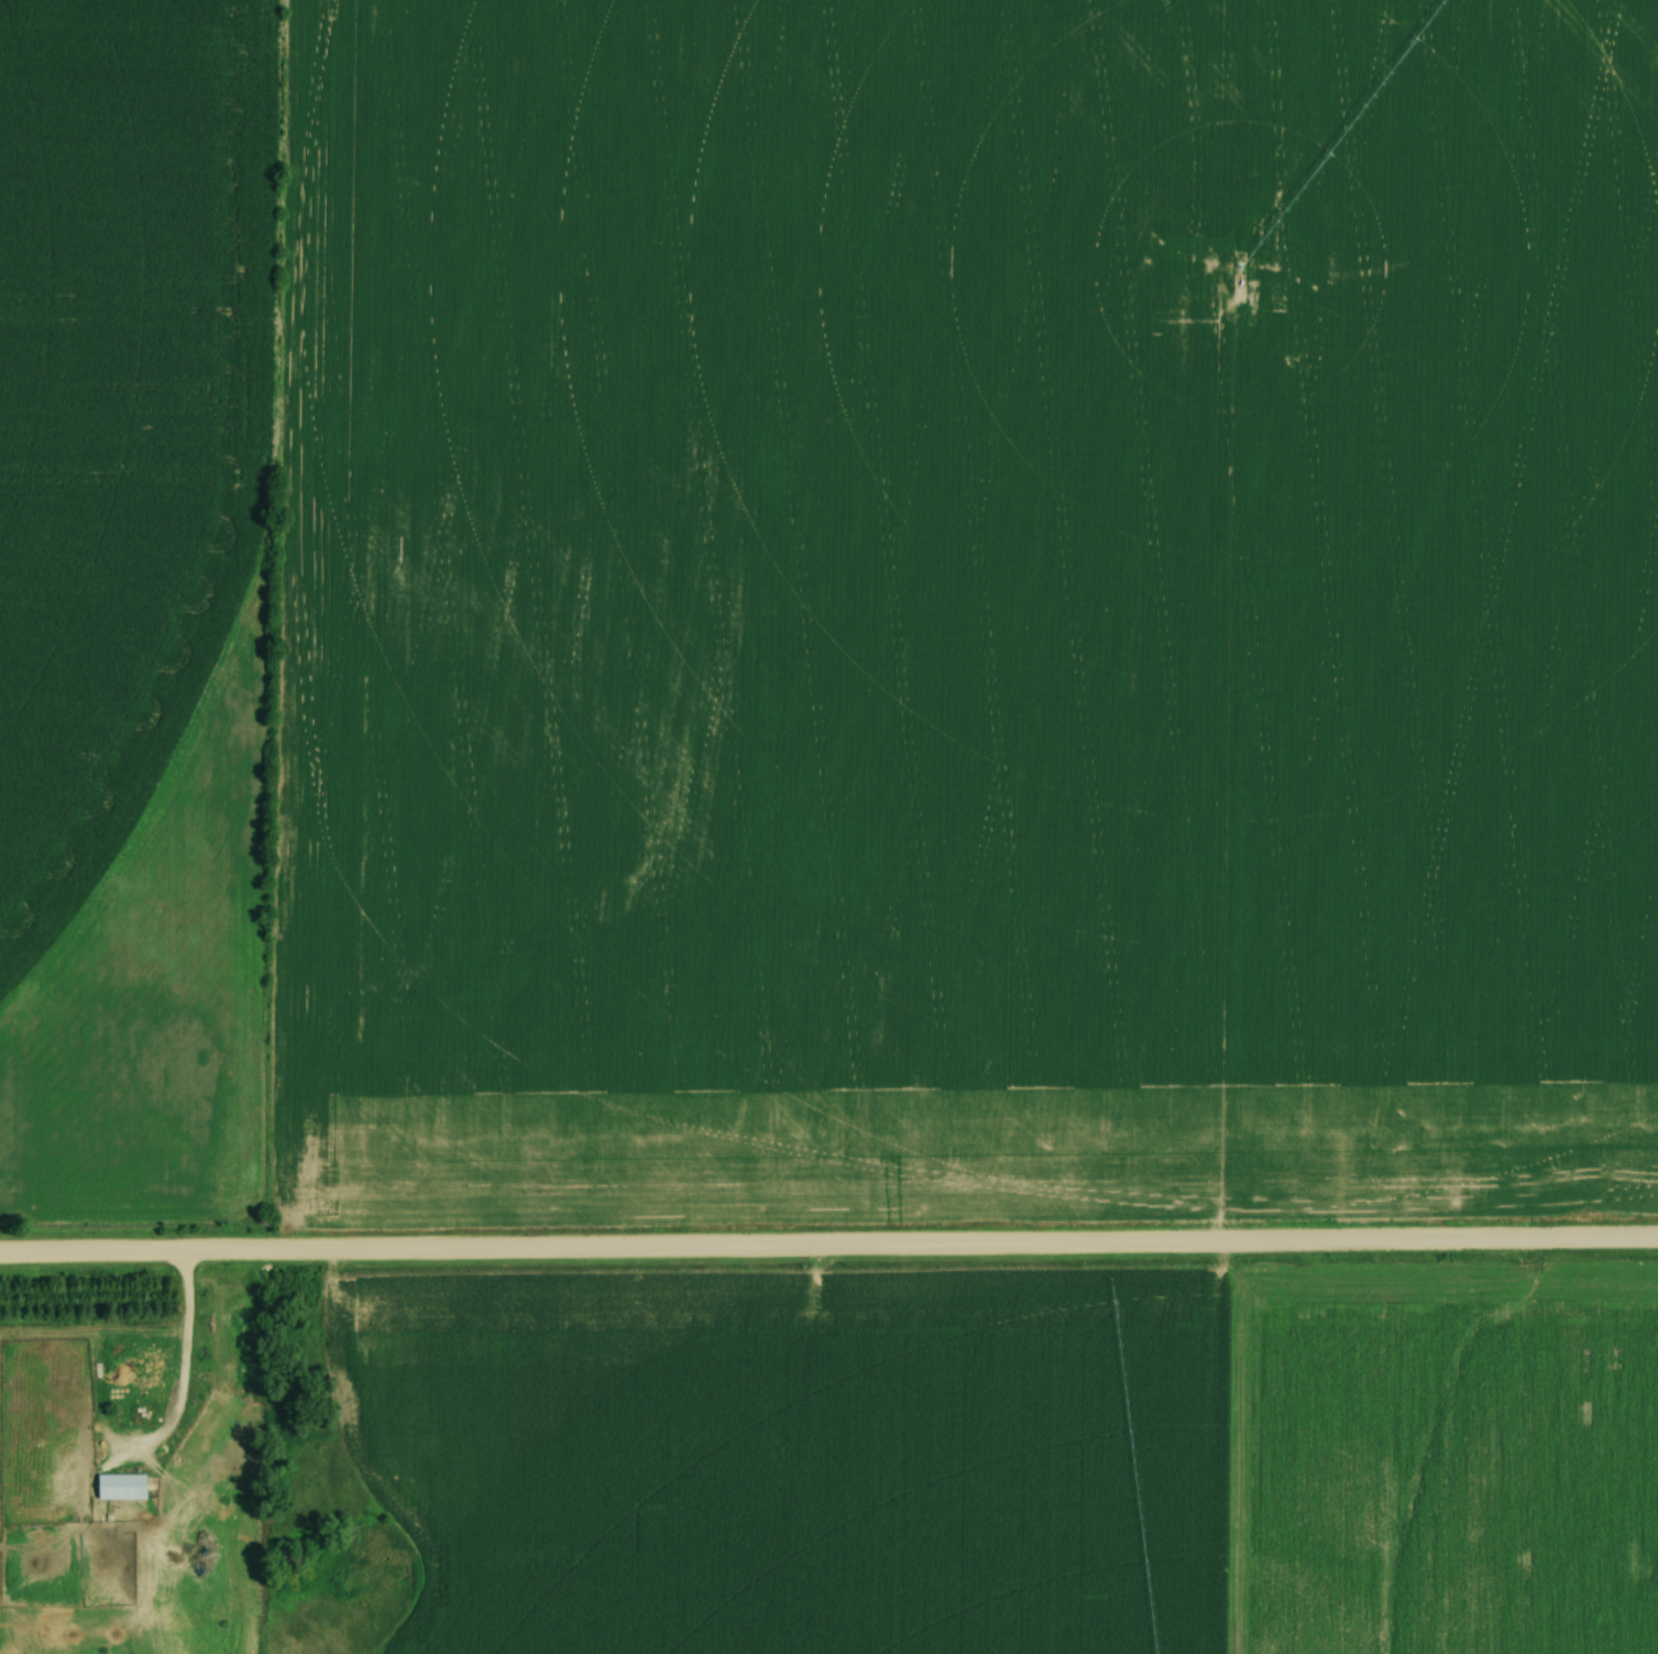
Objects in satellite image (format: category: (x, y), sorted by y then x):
road: (828, 1239)
road: (180, 1360)
crop: (1447, 1455)
building: (129, 1475)
building: (116, 1488)

